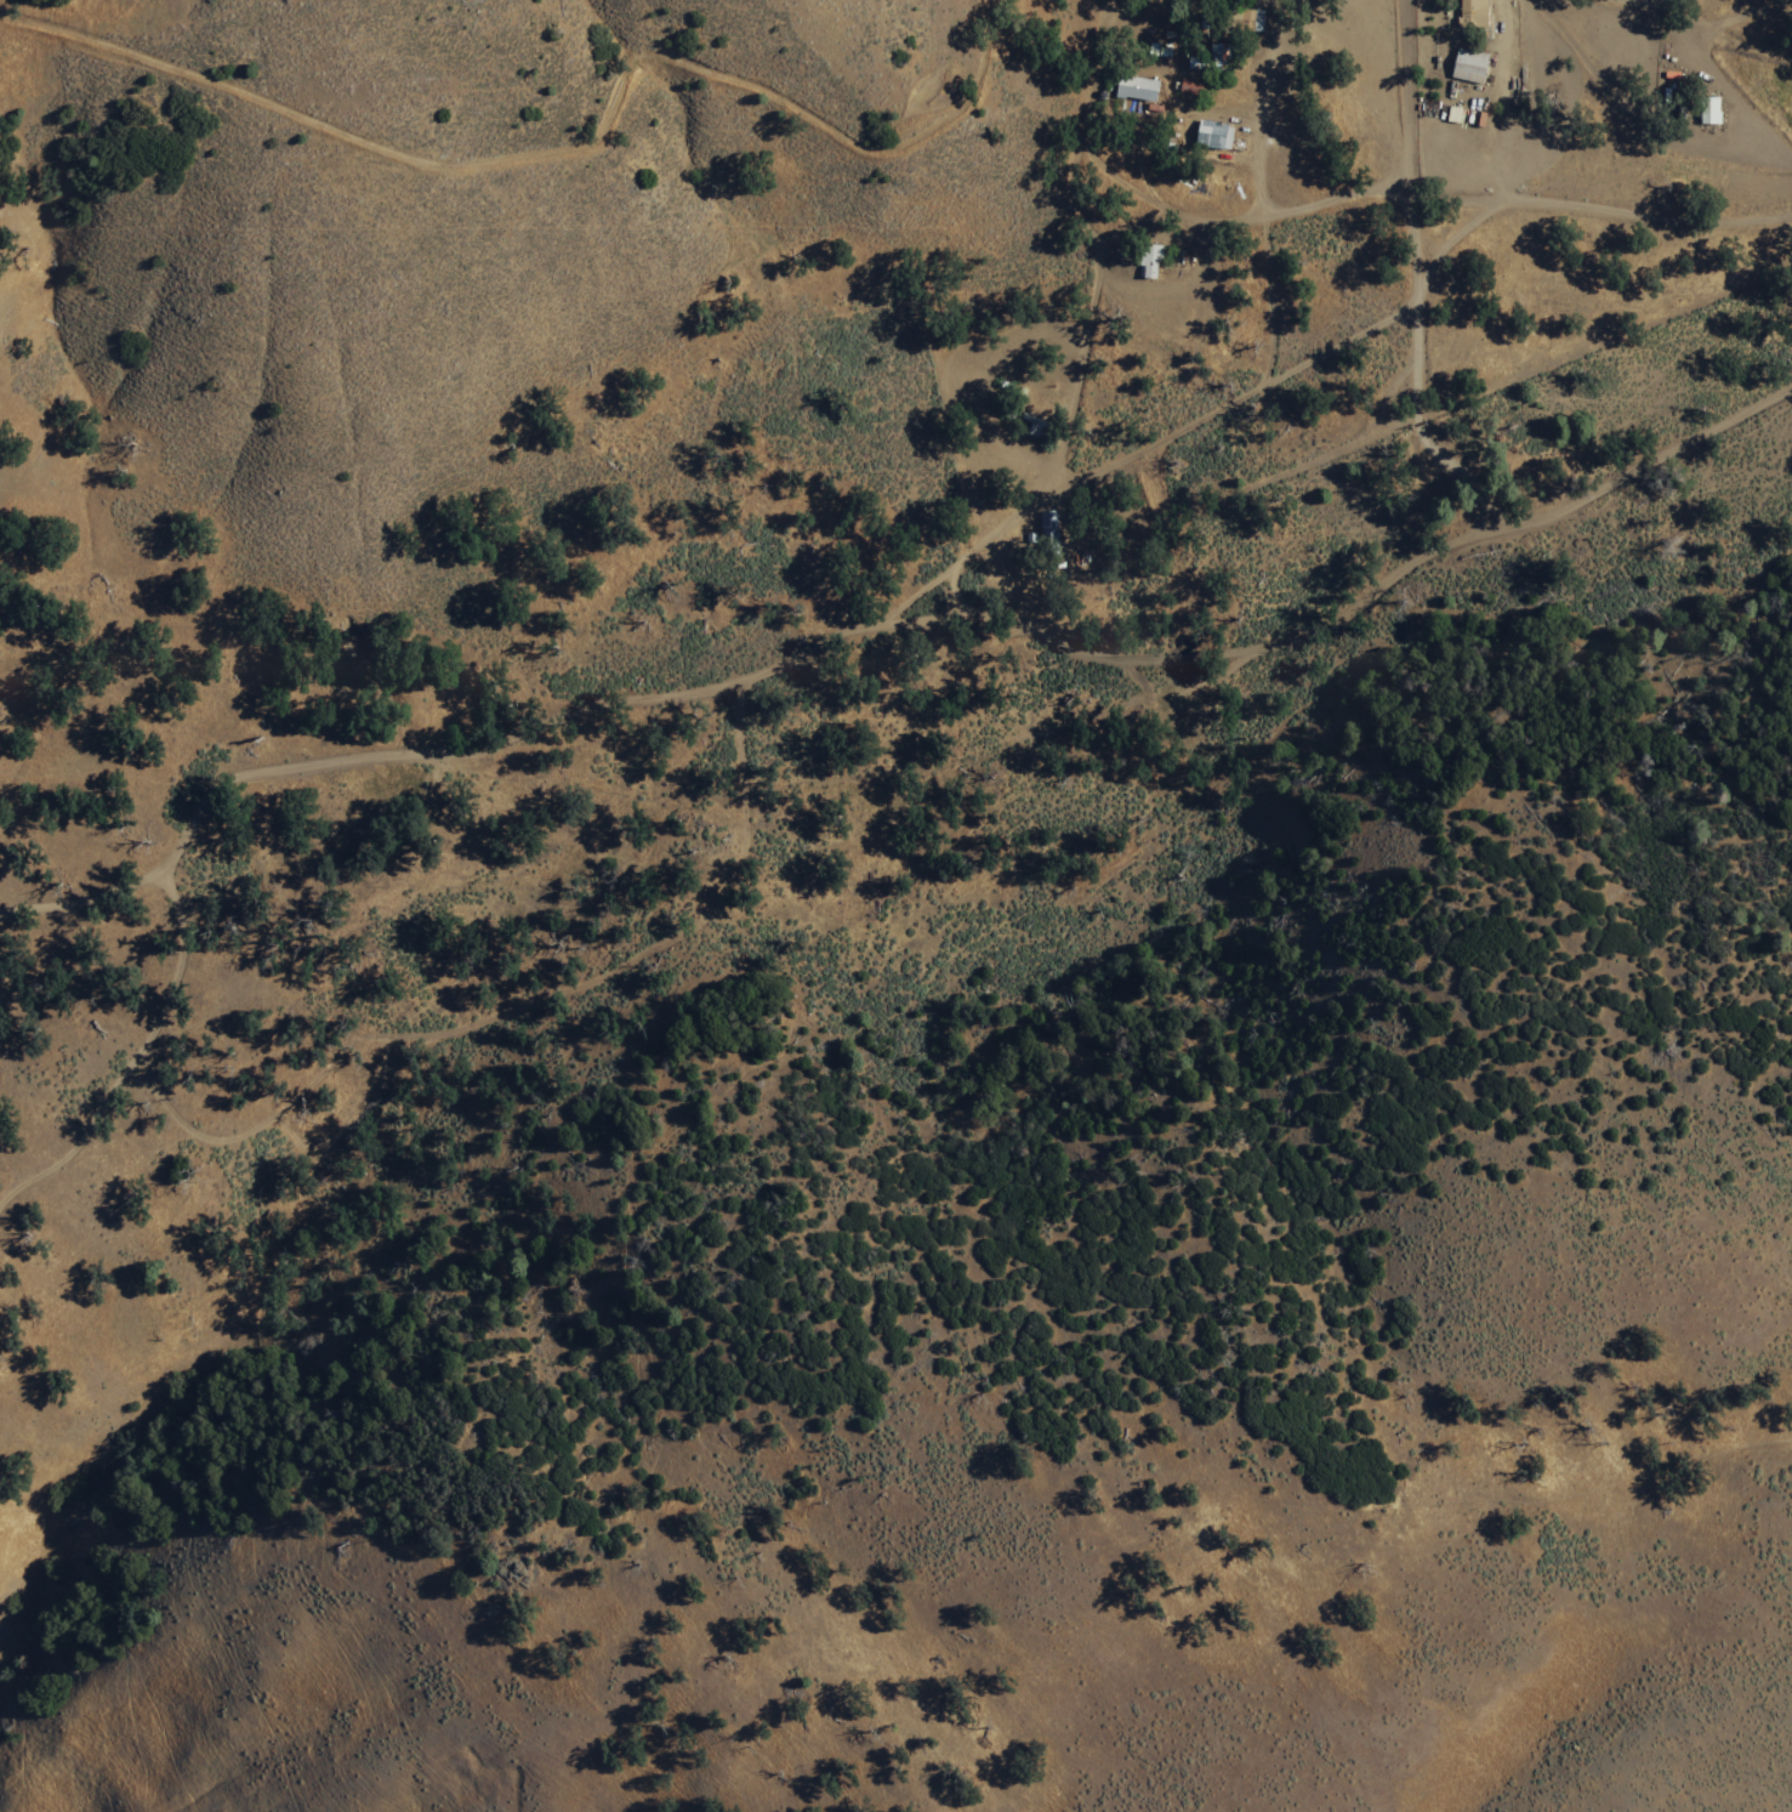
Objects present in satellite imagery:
building: (1470, 13)
road: (1679, 21)
building: (1467, 67)
road: (1723, 80)
building: (1133, 89)
building: (1707, 112)
building: (1211, 136)
road: (1521, 191)
road: (1256, 192)
road: (1086, 245)
building: (1147, 262)
road: (1204, 409)
building: (1046, 532)
road: (785, 652)
road: (83, 888)
road: (502, 1005)

